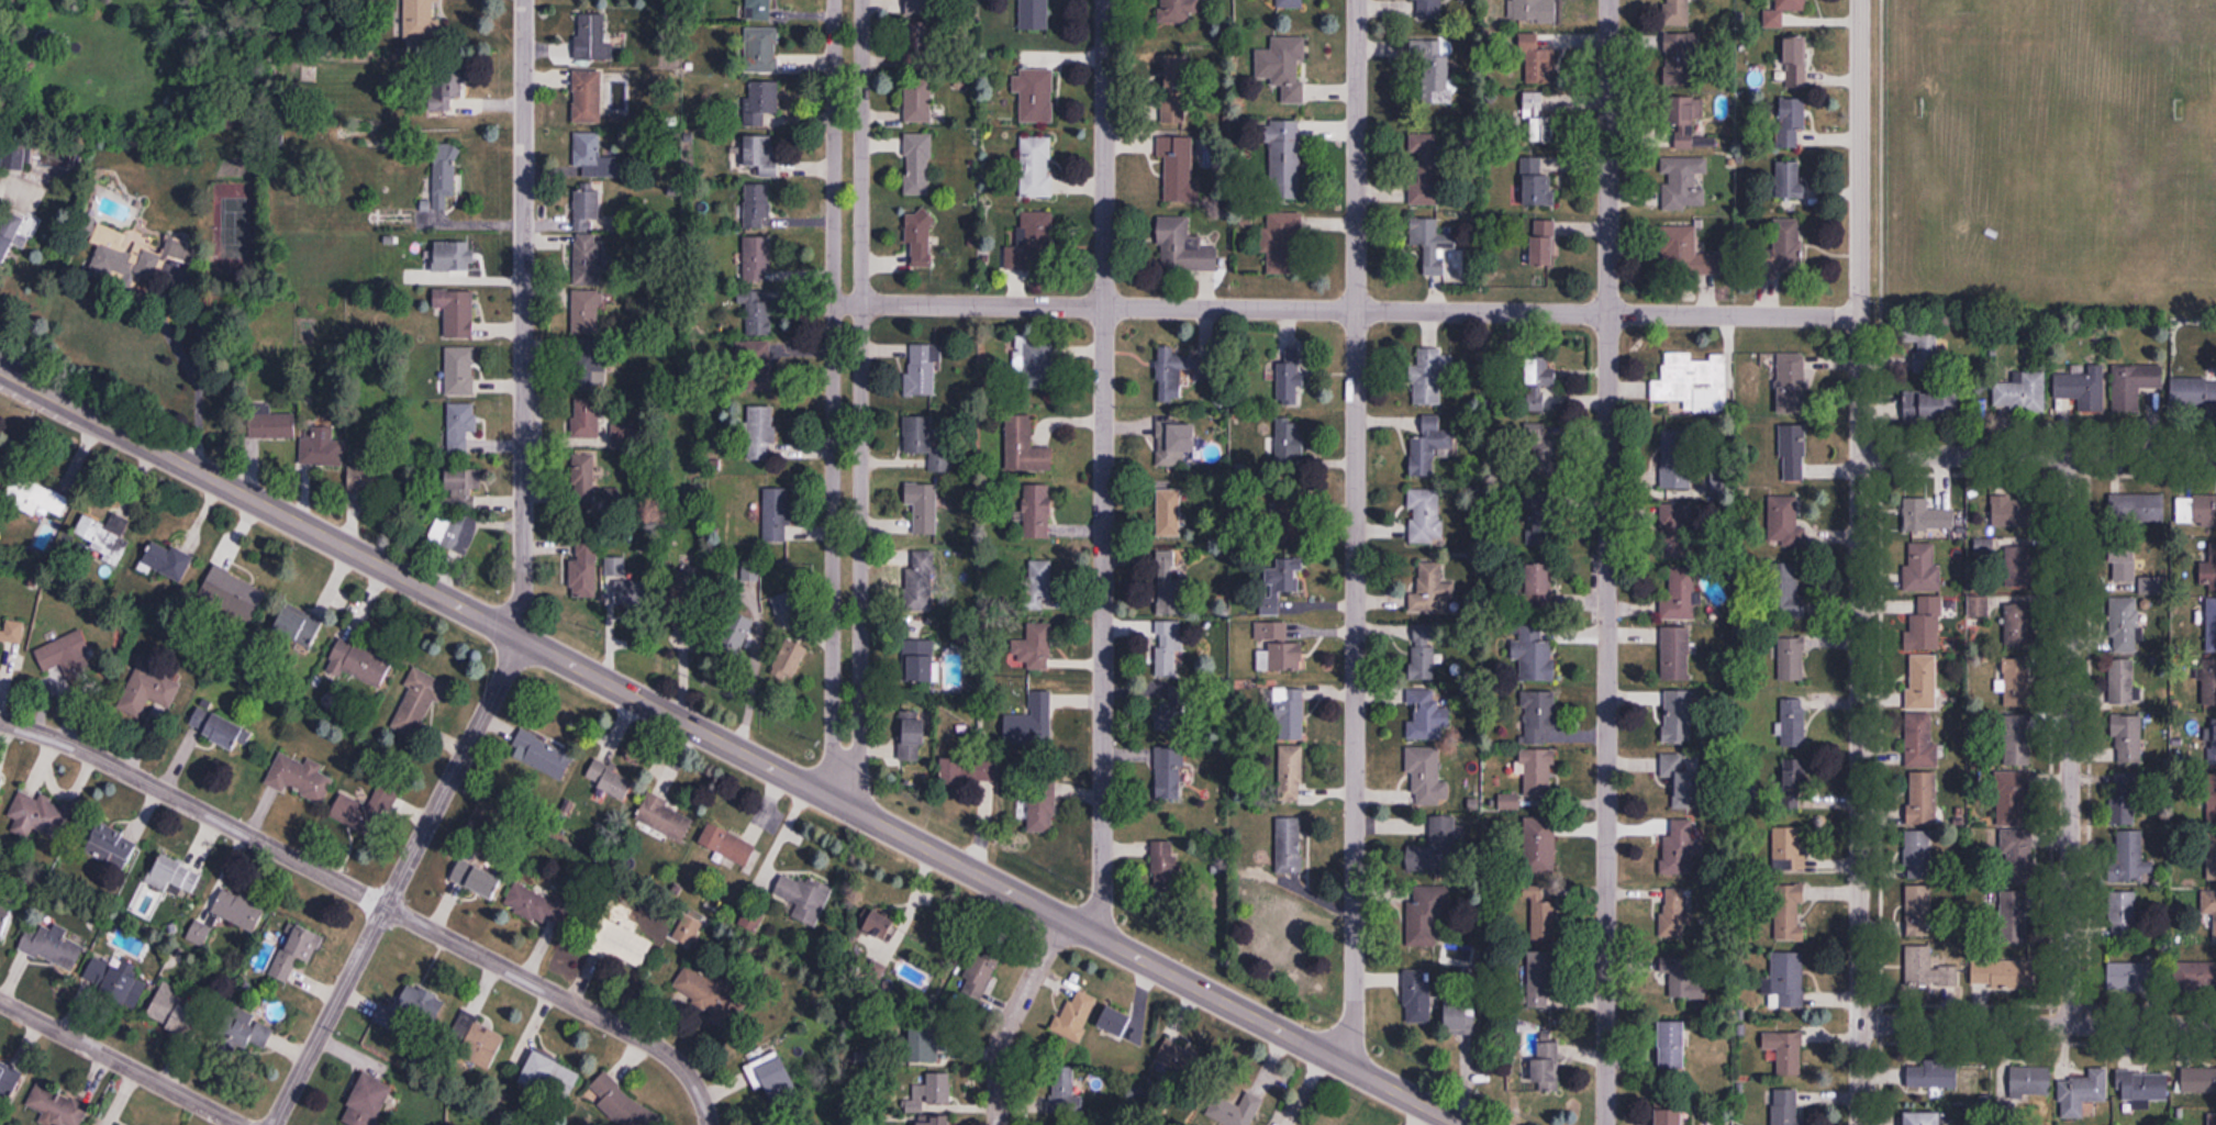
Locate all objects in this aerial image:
building: (1290, 3)
building: (925, 4)
building: (760, 11)
building: (1176, 11)
building: (1427, 11)
building: (1534, 11)
building: (1680, 12)
building: (1782, 12)
building: (1034, 15)
building: (422, 21)
building: (593, 41)
building: (924, 44)
building: (762, 52)
building: (1681, 59)
building: (1534, 62)
building: (1794, 63)
building: (1283, 66)
building: (1434, 71)
building: (445, 82)
building: (1174, 88)
building: (1035, 96)
building: (588, 98)
building: (918, 101)
building: (761, 104)
building: (1538, 118)
building: (1792, 121)
building: (1686, 126)
building: (591, 157)
building: (762, 157)
building: (14, 158)
building: (1287, 160)
building: (54, 164)
building: (917, 164)
building: (1036, 167)
building: (1424, 168)
building: (1180, 170)
building: (445, 177)
building: (1791, 180)
building: (1683, 182)
building: (1537, 183)
building: (758, 208)
building: (588, 210)
building: (9, 236)
building: (918, 240)
building: (1282, 243)
building: (1433, 243)
building: (1788, 243)
building: (1032, 244)
building: (1543, 244)
building: (1182, 246)
building: (1679, 248)
building: (133, 254)
building: (454, 258)
building: (758, 260)
building: (588, 261)
road: (1354, 309)
building: (457, 314)
building: (587, 314)
building: (760, 318)
building: (1924, 348)
building: (1034, 361)
building: (590, 367)
building: (757, 368)
building: (922, 370)
building: (1540, 371)
road: (204, 374)
building: (460, 374)
building: (1172, 375)
building: (1427, 378)
building: (1284, 379)
building: (1693, 382)
building: (1791, 382)
building: (2134, 385)
building: (2082, 388)
building: (2193, 391)
building: (2020, 392)
road: (847, 403)
building: (1931, 408)
building: (592, 421)
building: (271, 426)
building: (461, 428)
building: (762, 436)
building: (622, 438)
building: (1289, 441)
building: (924, 443)
building: (1173, 443)
building: (1024, 446)
building: (323, 449)
building: (1429, 449)
building: (1792, 453)
road: (2038, 455)
building: (1675, 459)
building: (2, 469)
road: (1104, 470)
building: (365, 480)
building: (584, 482)
building: (463, 491)
building: (38, 500)
building: (923, 506)
building: (2183, 510)
building: (1169, 513)
building: (2013, 513)
building: (1035, 515)
building: (1424, 515)
building: (1544, 515)
building: (1926, 516)
building: (778, 517)
building: (1784, 522)
building: (1674, 528)
building: (103, 535)
building: (455, 535)
road: (1355, 535)
road: (1860, 561)
road: (1606, 562)
building: (168, 564)
building: (2122, 564)
building: (2019, 566)
building: (1920, 568)
building: (586, 572)
building: (751, 575)
building: (921, 580)
building: (1168, 581)
building: (1040, 583)
building: (1280, 583)
building: (1539, 587)
building: (1430, 589)
building: (630, 590)
building: (1795, 590)
road: (522, 592)
building: (234, 595)
building: (1678, 595)
building: (1979, 605)
building: (783, 606)
building: (2017, 619)
building: (682, 620)
building: (2211, 624)
building: (1925, 625)
building: (2124, 625)
building: (298, 630)
building: (13, 634)
building: (738, 634)
building: (1033, 645)
building: (1169, 648)
building: (1278, 648)
building: (1675, 653)
building: (68, 658)
building: (1535, 658)
building: (1791, 658)
building: (1423, 659)
building: (920, 660)
building: (790, 664)
building: (360, 665)
building: (2012, 680)
building: (1923, 681)
building: (2206, 682)
building: (2124, 683)
building: (149, 690)
building: (419, 703)
building: (1169, 713)
building: (1288, 713)
building: (1679, 714)
building: (1540, 716)
building: (1032, 720)
building: (1427, 721)
building: (1794, 722)
building: (216, 728)
building: (913, 735)
building: (2016, 738)
building: (2127, 738)
building: (1922, 739)
road: (2070, 739)
building: (2209, 745)
road: (730, 747)
building: (543, 756)
building: (955, 770)
building: (1169, 772)
building: (1291, 772)
building: (1427, 773)
building: (1536, 775)
building: (301, 778)
building: (1679, 779)
building: (611, 780)
building: (0, 781)
building: (1795, 783)
building: (1922, 798)
building: (2128, 798)
building: (2208, 798)
building: (1042, 805)
building: (368, 811)
building: (40, 817)
building: (664, 817)
building: (1289, 844)
building: (728, 845)
building: (111, 846)
building: (1683, 846)
building: (1436, 847)
building: (1789, 848)
building: (2014, 848)
building: (1539, 849)
building: (1918, 854)
building: (2127, 856)
building: (2211, 856)
building: (1165, 866)
building: (174, 877)
building: (477, 880)
building: (805, 899)
road: (374, 901)
building: (2209, 905)
building: (537, 907)
building: (240, 911)
building: (1918, 911)
building: (1790, 912)
building: (1674, 913)
building: (2124, 914)
building: (1423, 915)
building: (5, 916)
building: (1545, 921)
building: (881, 926)
building: (1278, 928)
building: (621, 938)
building: (53, 948)
building: (297, 953)
building: (1919, 969)
building: (2003, 973)
building: (2134, 976)
building: (1681, 977)
building: (2184, 977)
building: (977, 978)
building: (1544, 980)
building: (1788, 980)
building: (115, 984)
building: (713, 996)
building: (1417, 996)
building: (411, 1011)
building: (178, 1014)
building: (1076, 1014)
road: (1012, 1017)
building: (1460, 1018)
building: (1114, 1021)
road: (2038, 1023)
building: (244, 1034)
building: (923, 1042)
building: (475, 1044)
building: (1672, 1046)
building: (1785, 1051)
building: (1173, 1055)
road: (118, 1062)
building: (1927, 1073)
building: (1546, 1074)
building: (550, 1076)
building: (772, 1078)
building: (2030, 1081)
building: (2198, 1081)
building: (8, 1083)
building: (938, 1088)
building: (2142, 1089)
building: (2082, 1093)
building: (1064, 1095)
building: (621, 1102)
building: (368, 1103)
building: (1785, 1106)
building: (57, 1109)
building: (1227, 1110)
building: (1668, 1116)
building: (1917, 1118)
building: (933, 1121)

